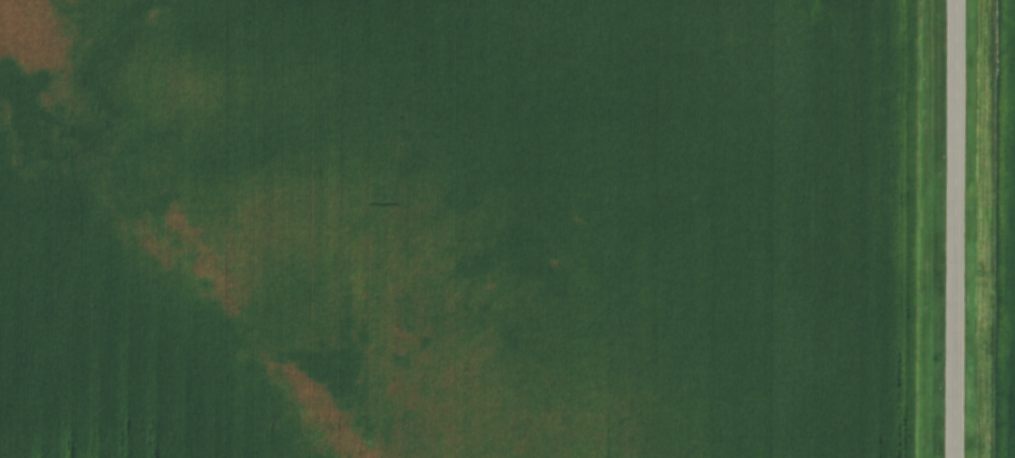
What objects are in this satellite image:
road: (959, 229)

